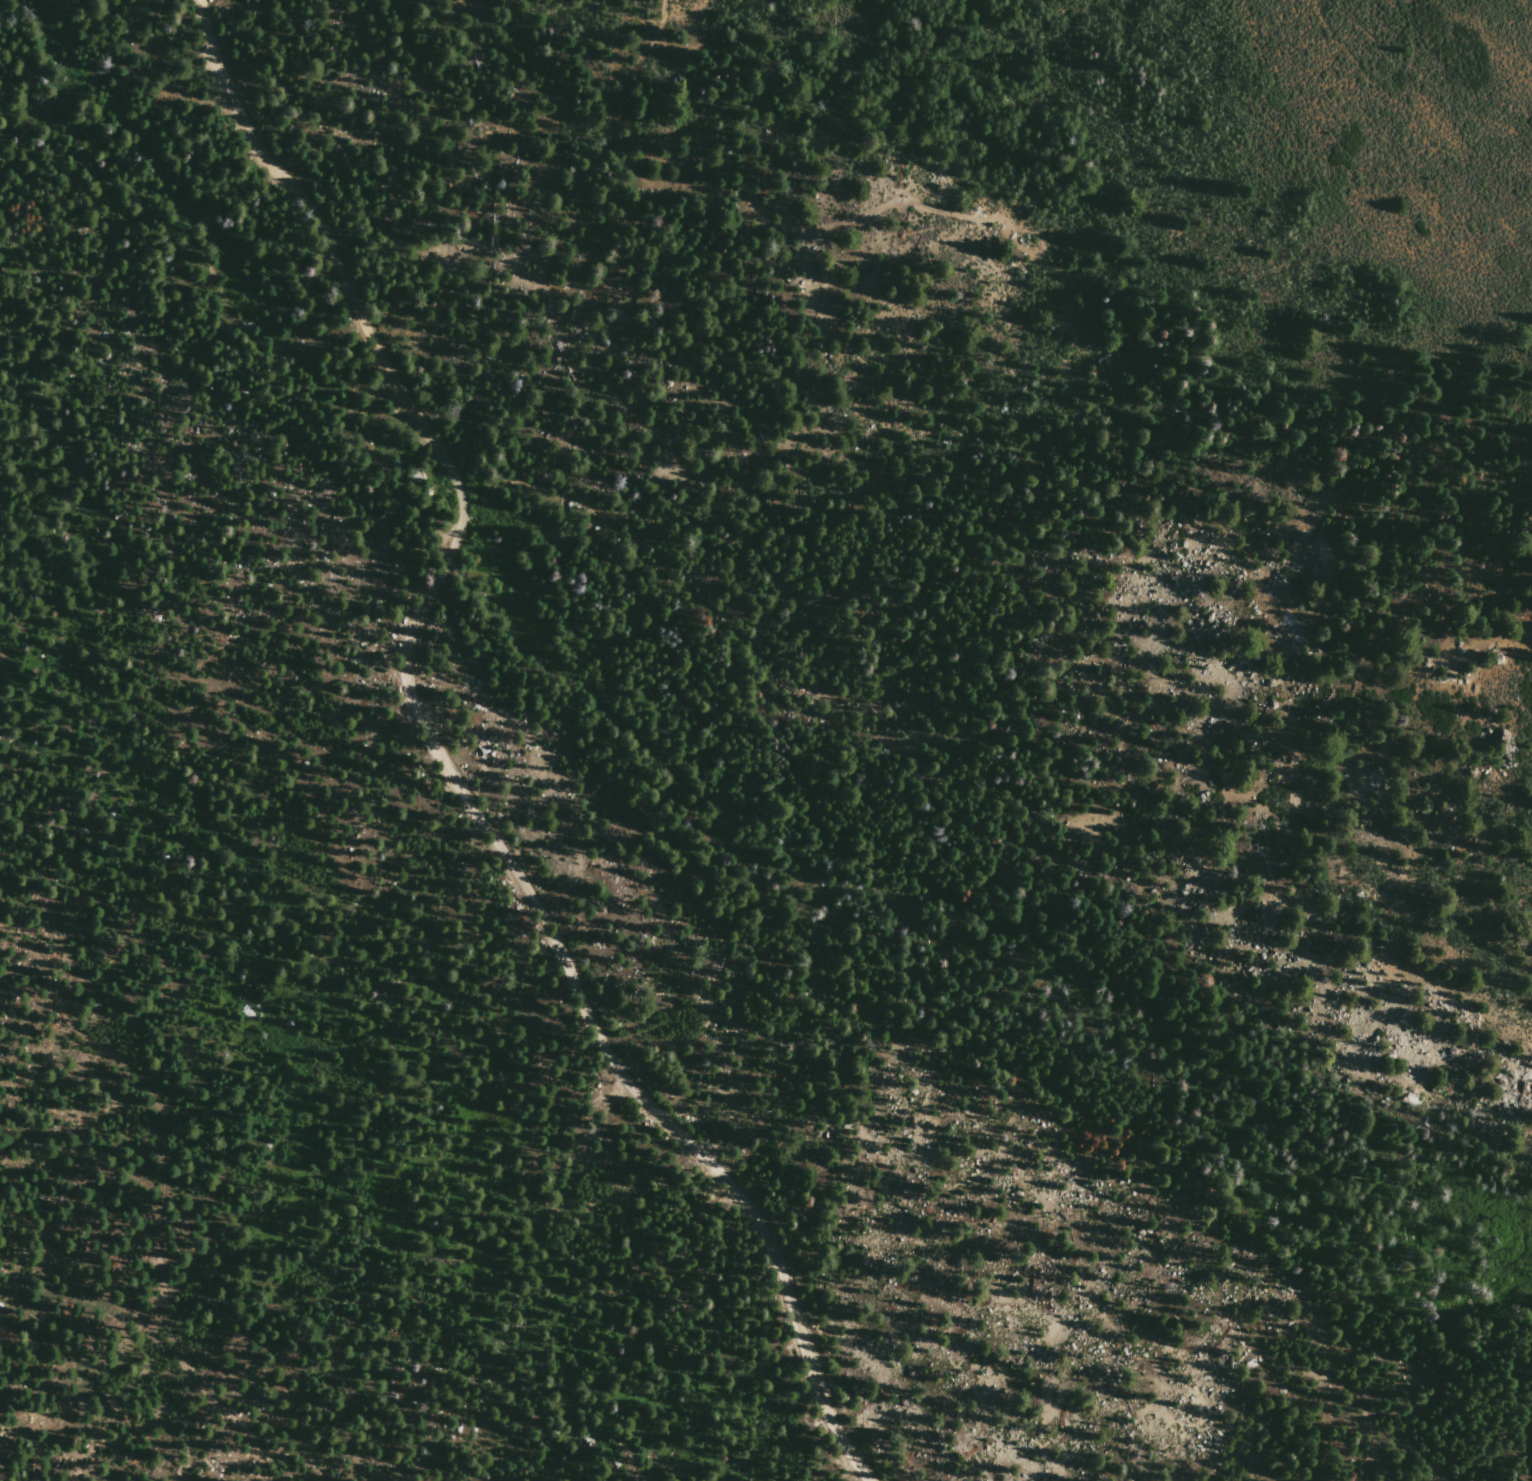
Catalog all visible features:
road: (653, 43)
road: (443, 762)
road: (155, 1181)

